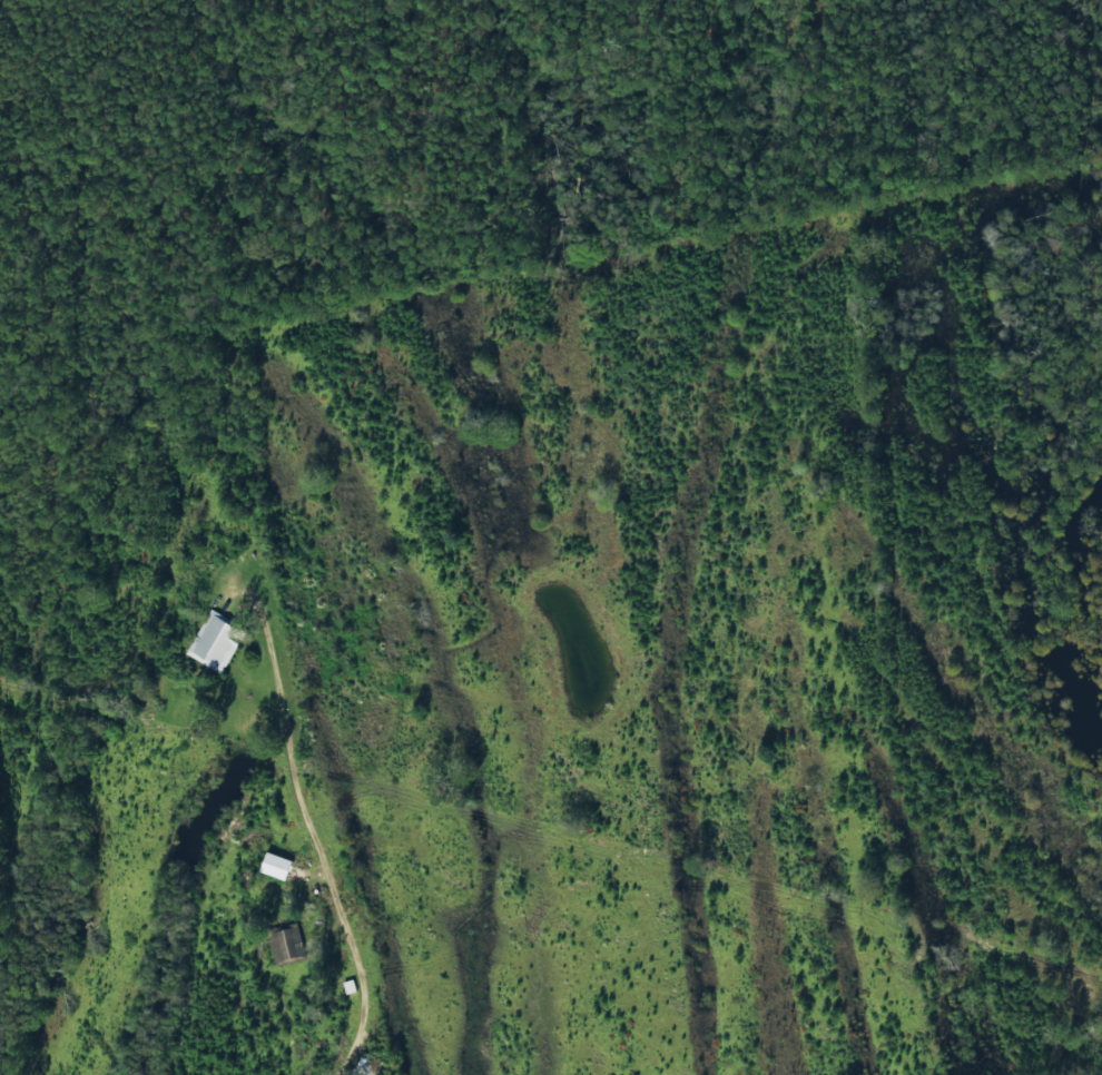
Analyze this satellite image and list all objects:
building: (215, 641)
building: (276, 865)
building: (285, 943)

